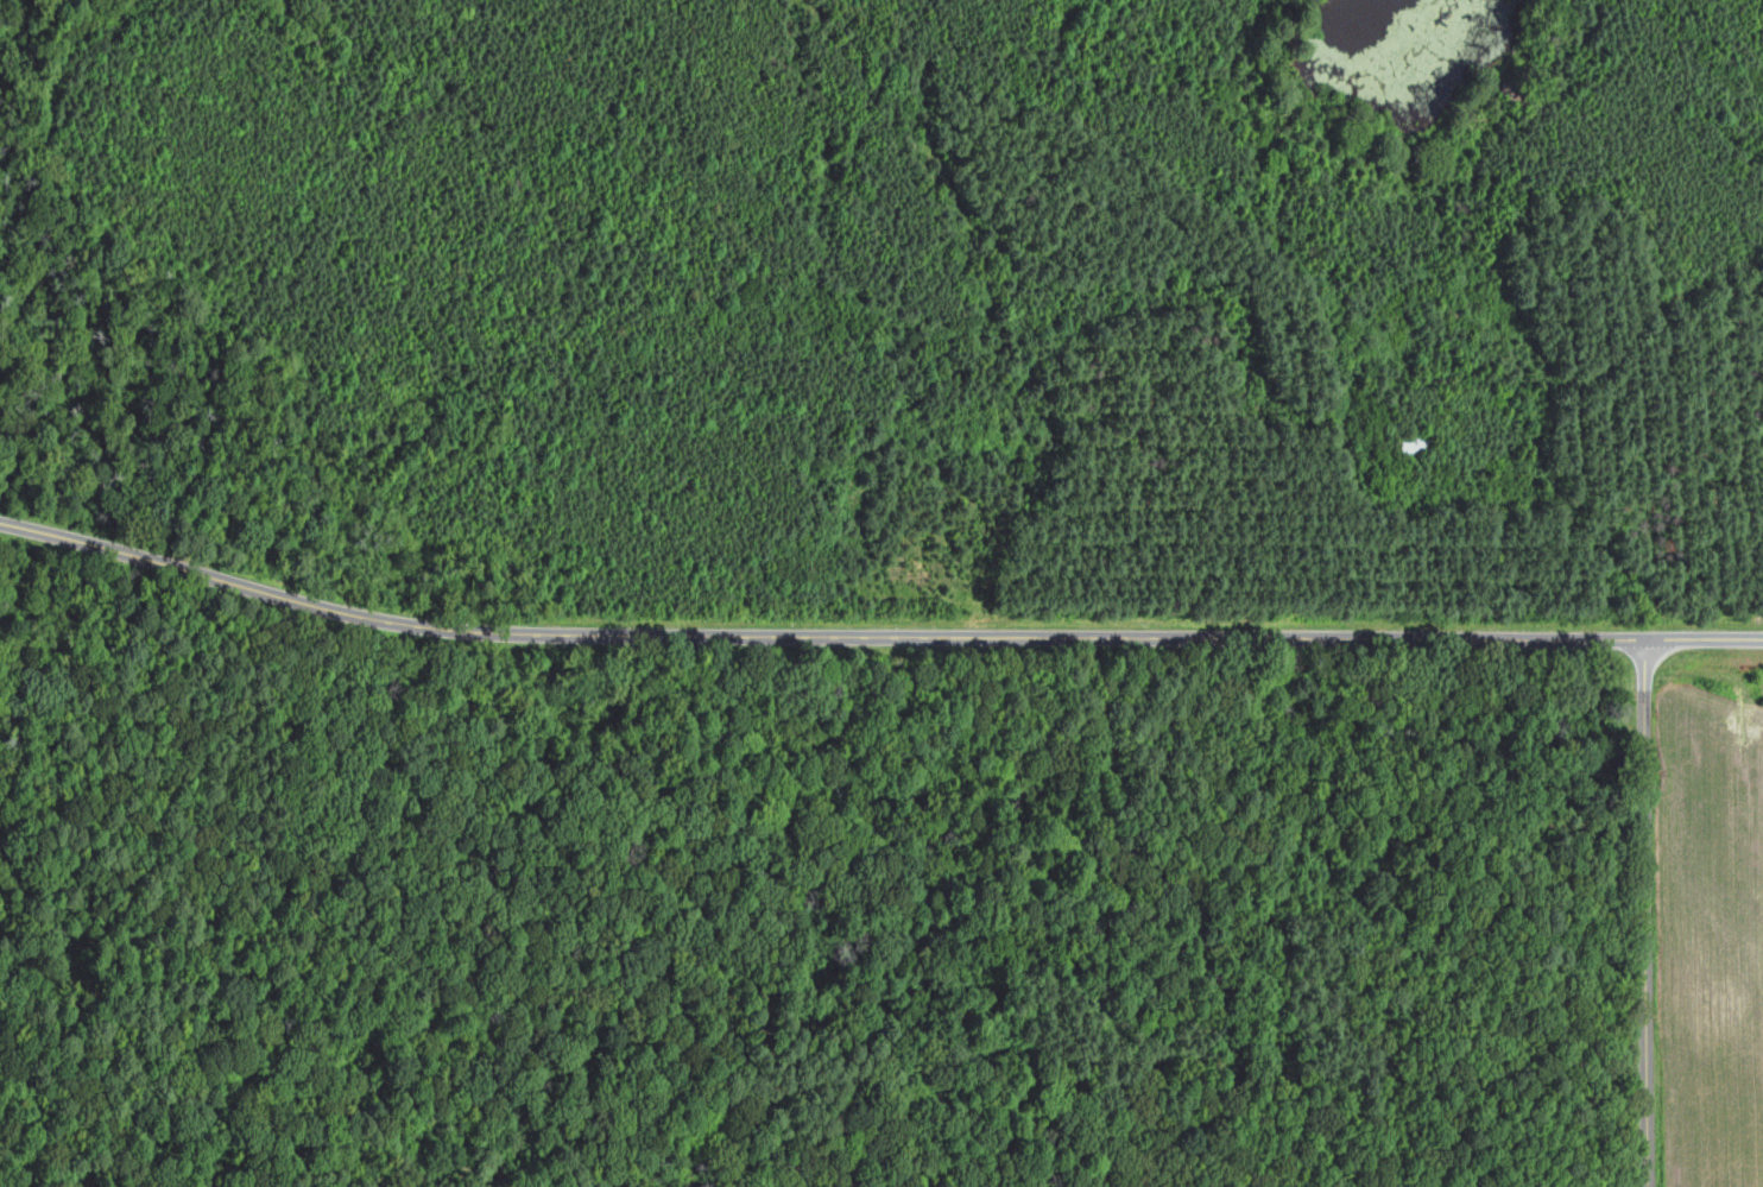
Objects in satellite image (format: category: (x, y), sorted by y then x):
building: (1403, 443)
road: (874, 633)
road: (1648, 914)

